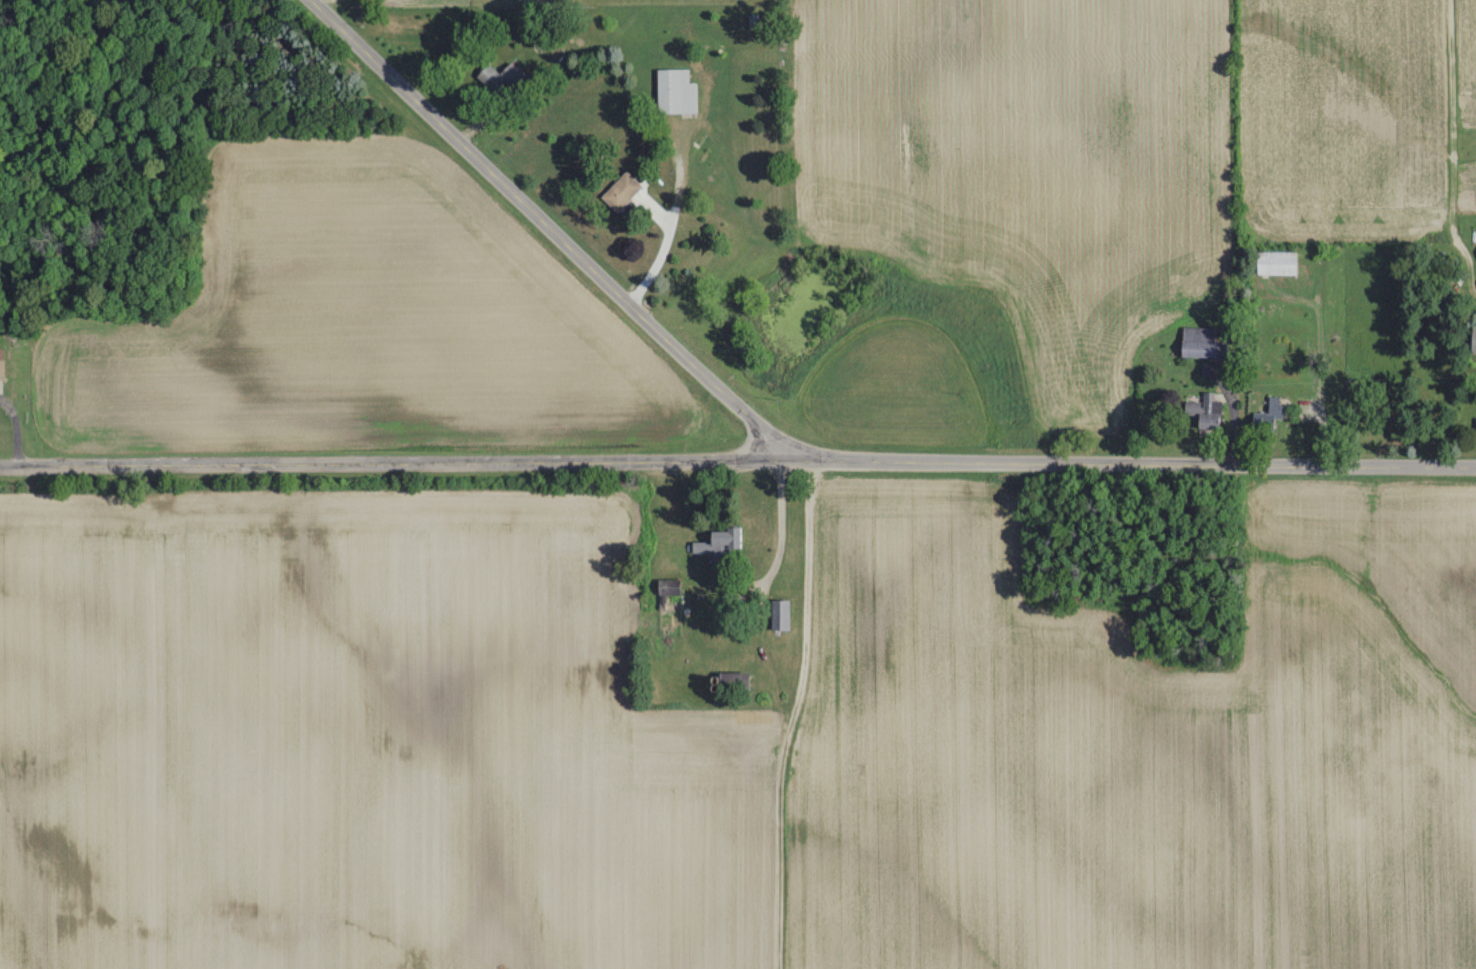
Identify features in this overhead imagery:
building: (502, 78)
building: (675, 92)
building: (620, 192)
road: (554, 226)
building: (1273, 262)
building: (1472, 339)
building: (1200, 343)
building: (1, 364)
building: (1203, 411)
building: (1265, 415)
road: (16, 440)
road: (737, 459)
building: (721, 540)
road: (783, 553)
building: (779, 614)
building: (730, 681)

